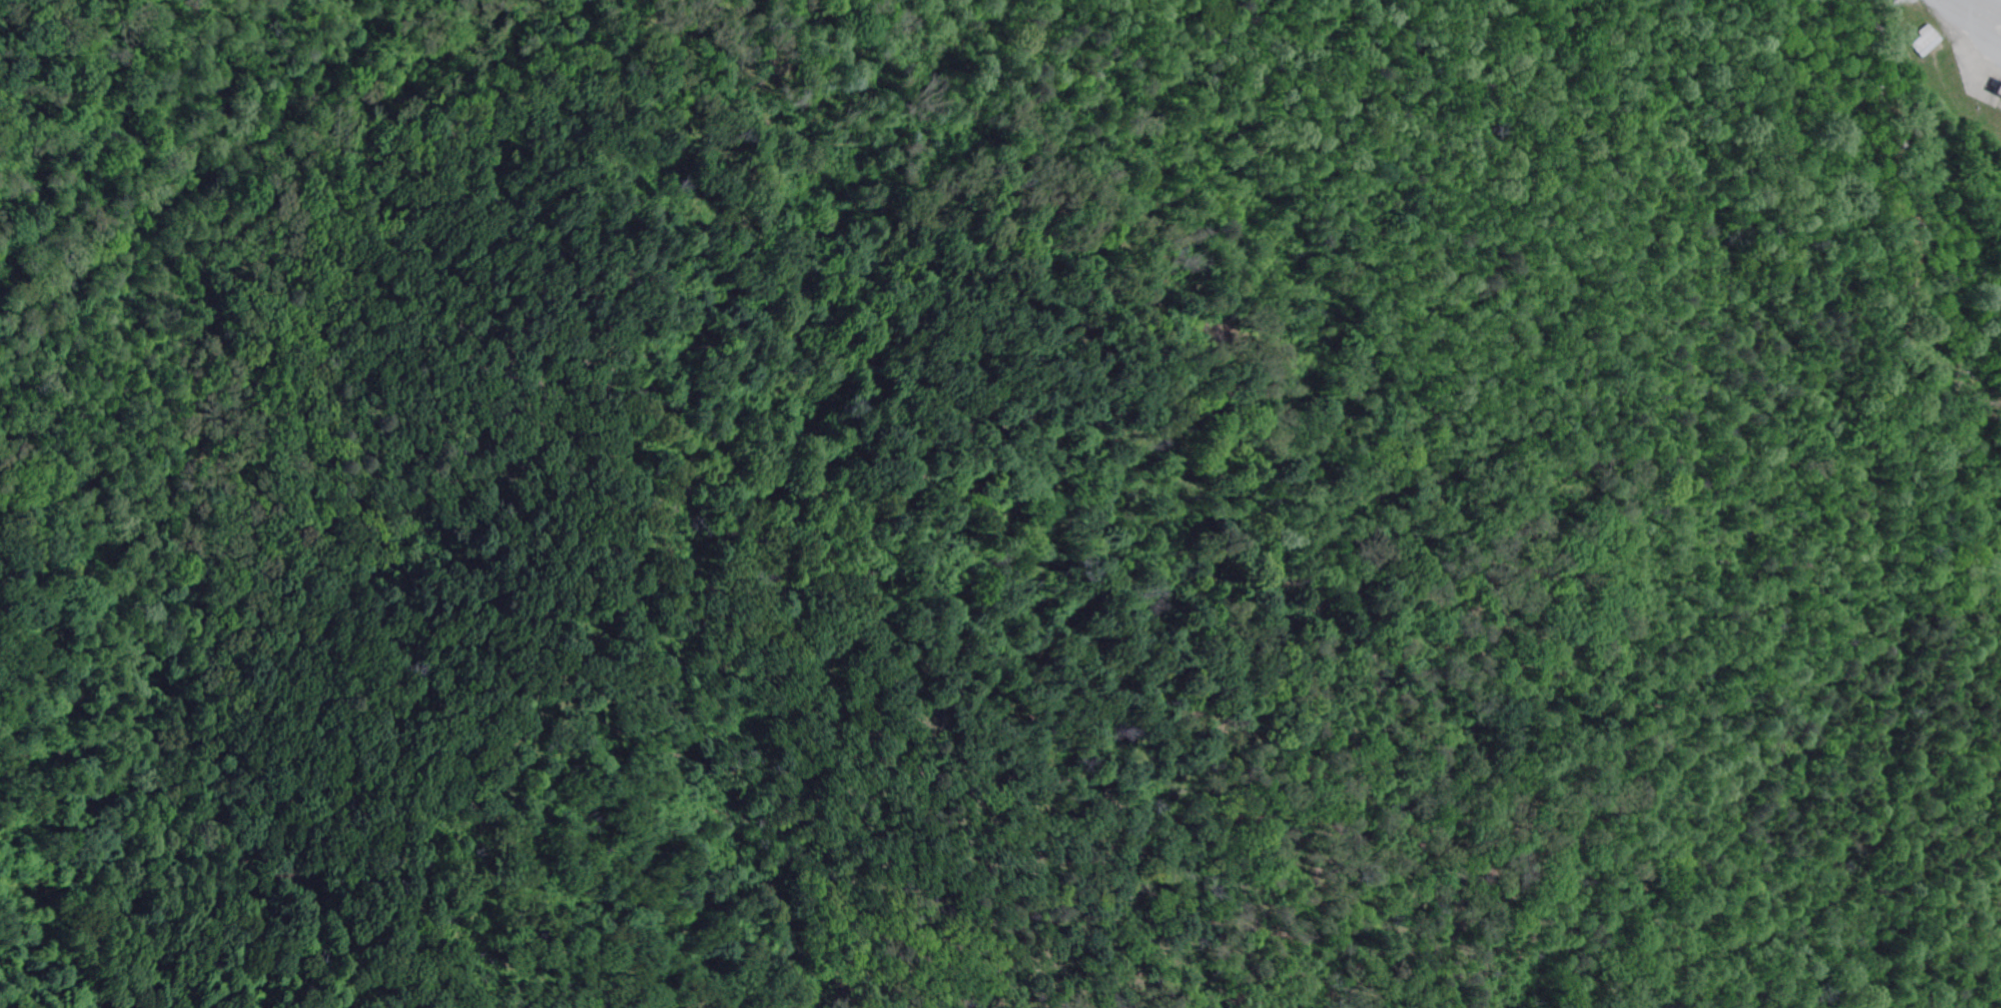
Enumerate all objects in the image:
building: (1887, 0)
building: (1995, 92)

